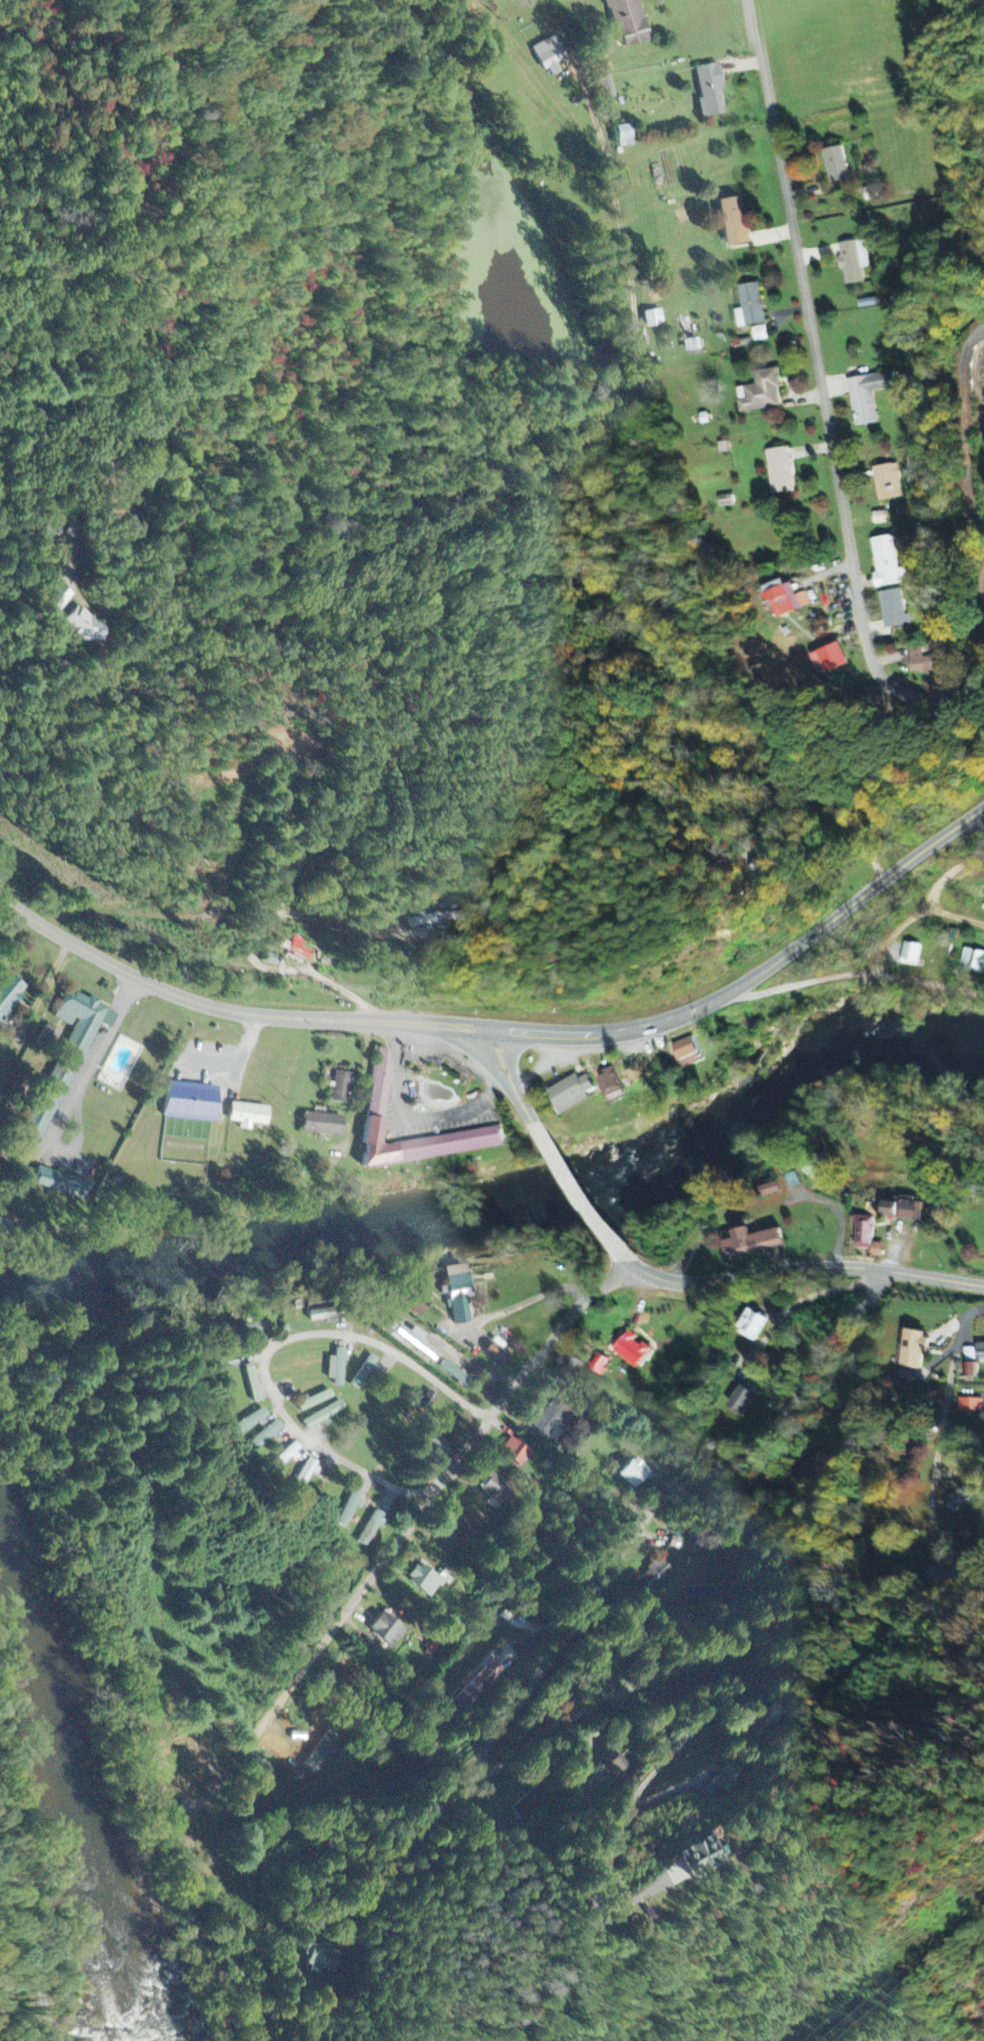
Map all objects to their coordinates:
building: (626, 22)
building: (548, 56)
building: (607, 88)
building: (709, 91)
building: (624, 137)
building: (833, 165)
building: (732, 222)
building: (851, 262)
building: (866, 303)
building: (748, 306)
building: (653, 319)
building: (758, 334)
building: (758, 393)
building: (865, 397)
building: (964, 406)
road: (823, 408)
building: (721, 448)
building: (777, 472)
building: (885, 482)
building: (724, 501)
park: (124, 505)
building: (877, 517)
building: (885, 563)
road: (982, 592)
building: (58, 597)
building: (782, 599)
building: (892, 610)
building: (82, 628)
building: (828, 658)
building: (923, 658)
building: (760, 867)
road: (922, 905)
road: (952, 916)
building: (433, 920)
building: (300, 948)
building: (908, 954)
building: (971, 961)
road: (852, 970)
building: (9, 995)
road: (511, 1030)
building: (48, 1037)
building: (684, 1052)
building: (62, 1063)
road: (503, 1073)
building: (607, 1082)
building: (339, 1088)
building: (377, 1093)
building: (568, 1094)
road: (76, 1096)
building: (187, 1102)
building: (246, 1116)
building: (320, 1125)
building: (813, 1166)
building: (59, 1184)
road: (572, 1184)
river: (512, 1190)
building: (766, 1190)
building: (899, 1210)
building: (863, 1236)
building: (746, 1242)
road: (624, 1259)
road: (805, 1266)
building: (457, 1294)
road: (528, 1298)
building: (415, 1302)
building: (391, 1325)
building: (748, 1325)
building: (258, 1327)
building: (415, 1343)
road: (274, 1344)
building: (629, 1349)
building: (909, 1349)
building: (978, 1350)
building: (496, 1354)
building: (597, 1364)
building: (335, 1368)
building: (362, 1373)
building: (455, 1375)
building: (251, 1384)
building: (738, 1400)
building: (313, 1401)
road: (941, 1404)
building: (967, 1405)
building: (250, 1421)
building: (550, 1422)
building: (265, 1437)
building: (435, 1445)
building: (516, 1453)
building: (286, 1457)
building: (814, 1469)
building: (636, 1474)
building: (304, 1476)
building: (496, 1488)
building: (961, 1496)
building: (348, 1511)
building: (372, 1529)
building: (657, 1576)
road: (509, 1579)
road: (370, 1580)
building: (424, 1582)
building: (387, 1631)
building: (481, 1686)
road: (560, 1724)
river: (88, 1760)
building: (619, 1763)
building: (731, 1778)
building: (534, 1802)
building: (701, 1855)
railway: (32, 1929)
building: (321, 1959)

